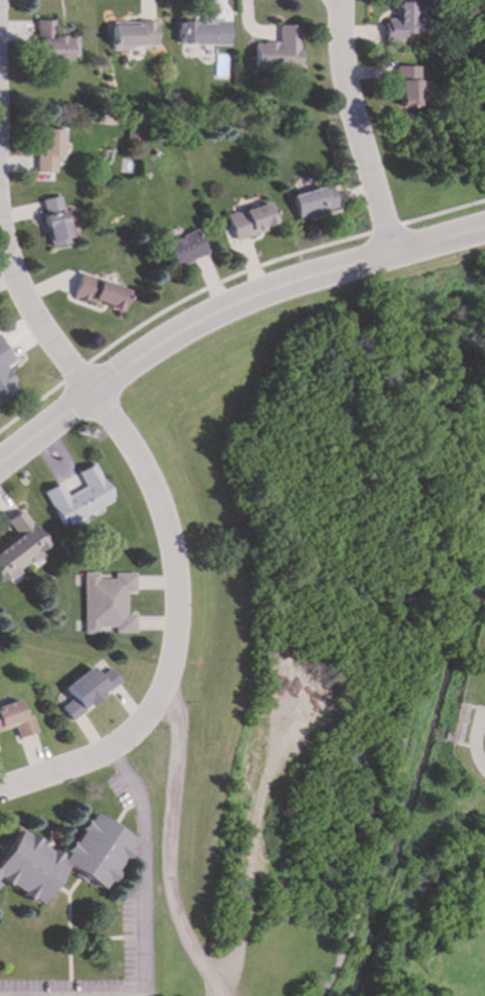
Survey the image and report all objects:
building: (403, 21)
building: (205, 34)
building: (135, 36)
building: (55, 44)
building: (279, 51)
building: (407, 87)
road: (356, 130)
building: (50, 149)
building: (312, 202)
building: (56, 222)
building: (249, 222)
building: (184, 249)
road: (225, 280)
building: (99, 293)
road: (30, 305)
road: (223, 311)
building: (6, 373)
building: (79, 497)
building: (20, 547)
park: (321, 589)
building: (107, 603)
road: (178, 634)
building: (87, 691)
building: (15, 720)
road: (377, 841)
road: (176, 843)
road: (250, 858)
building: (63, 860)
road: (143, 870)

